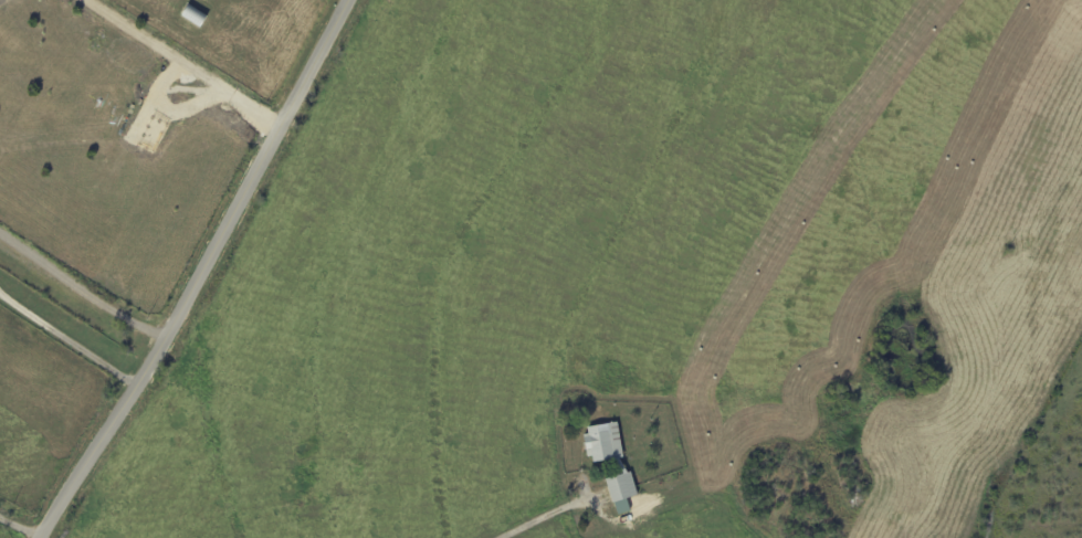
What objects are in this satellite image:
building: (195, 15)
road: (192, 268)
road: (78, 284)
road: (65, 338)
building: (605, 443)
building: (623, 488)
road: (542, 516)
road: (15, 529)

